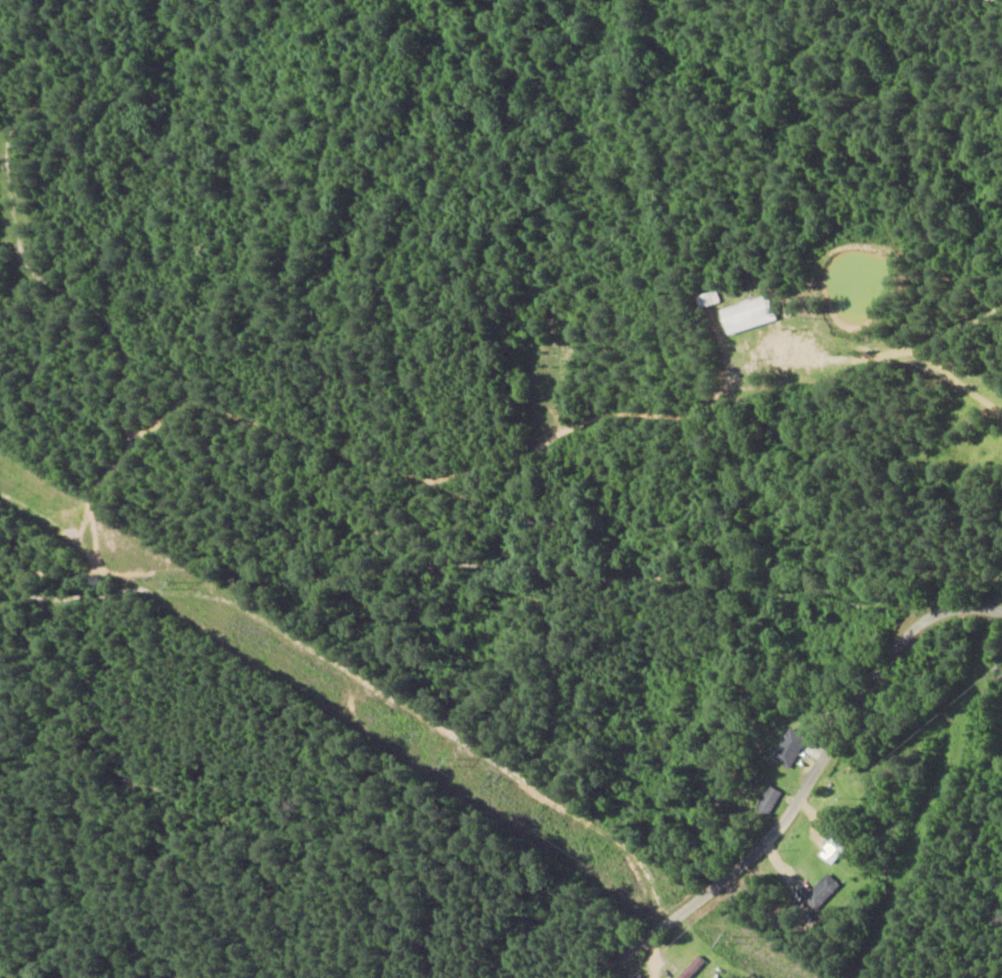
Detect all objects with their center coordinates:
building: (745, 315)
building: (788, 748)
building: (767, 800)
road: (830, 806)
building: (831, 851)
building: (823, 889)

